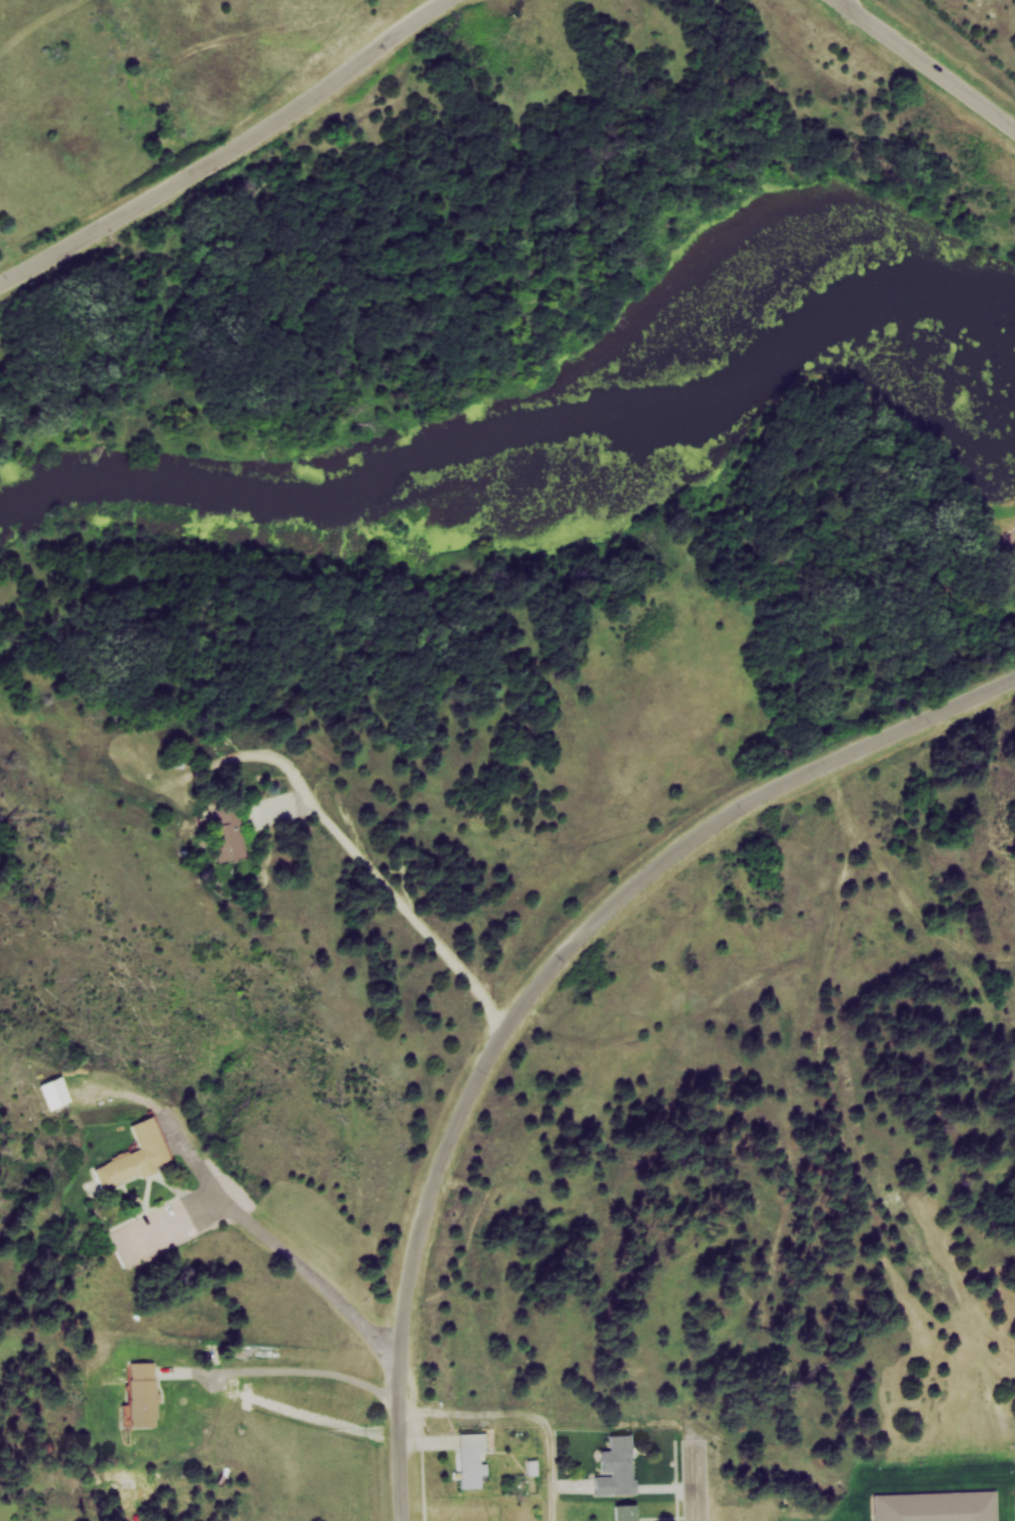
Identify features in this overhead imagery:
road: (919, 71)
road: (235, 152)
building: (228, 830)
road: (396, 893)
road: (590, 924)
building: (48, 1091)
building: (129, 1155)
road: (273, 1236)
road: (290, 1369)
building: (139, 1395)
road: (471, 1411)
road: (404, 1443)
building: (468, 1458)
road: (555, 1465)
building: (615, 1466)
road: (696, 1481)
building: (935, 1506)
building: (625, 1512)

